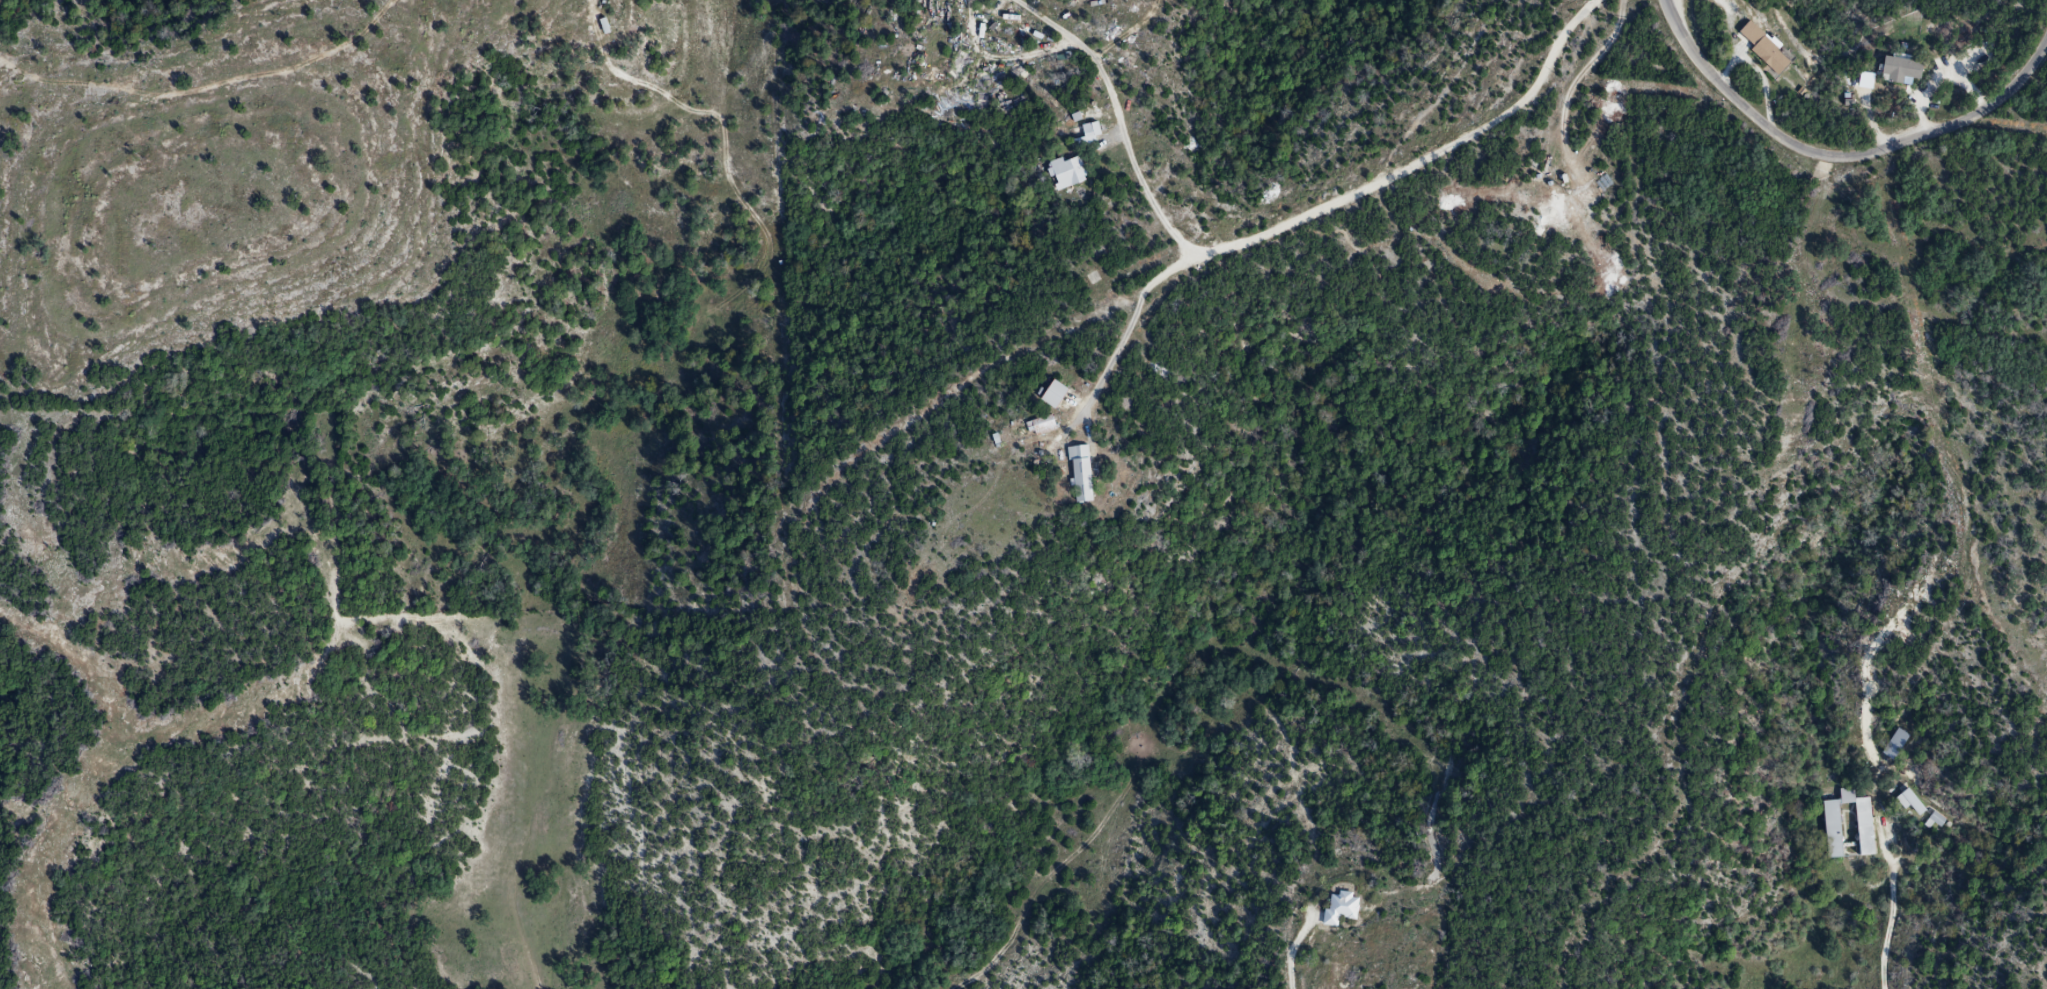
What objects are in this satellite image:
building: (918, 0)
building: (604, 28)
building: (1763, 48)
building: (1902, 72)
road: (621, 73)
road: (194, 82)
building: (1087, 139)
road: (1842, 156)
building: (1067, 172)
road: (1277, 231)
road: (1120, 344)
building: (1054, 396)
building: (1041, 428)
road: (834, 453)
building: (1081, 475)
building: (1895, 745)
building: (1937, 821)
building: (1833, 830)
building: (1340, 909)
road: (1897, 914)
road: (1292, 968)

